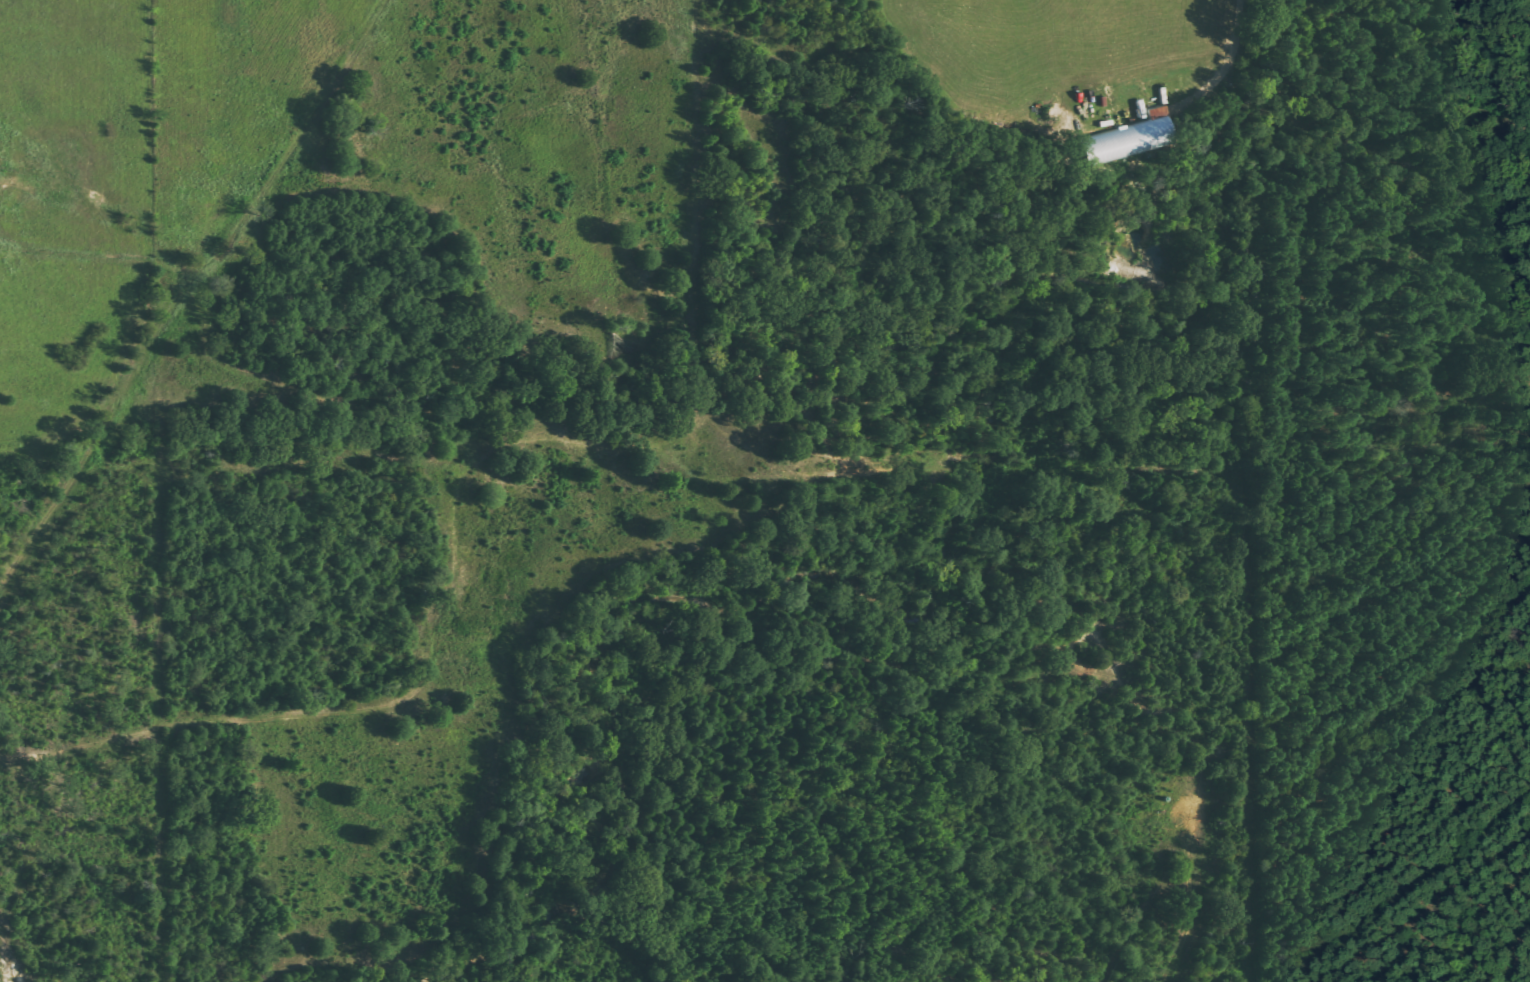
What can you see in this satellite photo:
road: (1231, 62)
building: (1121, 142)

